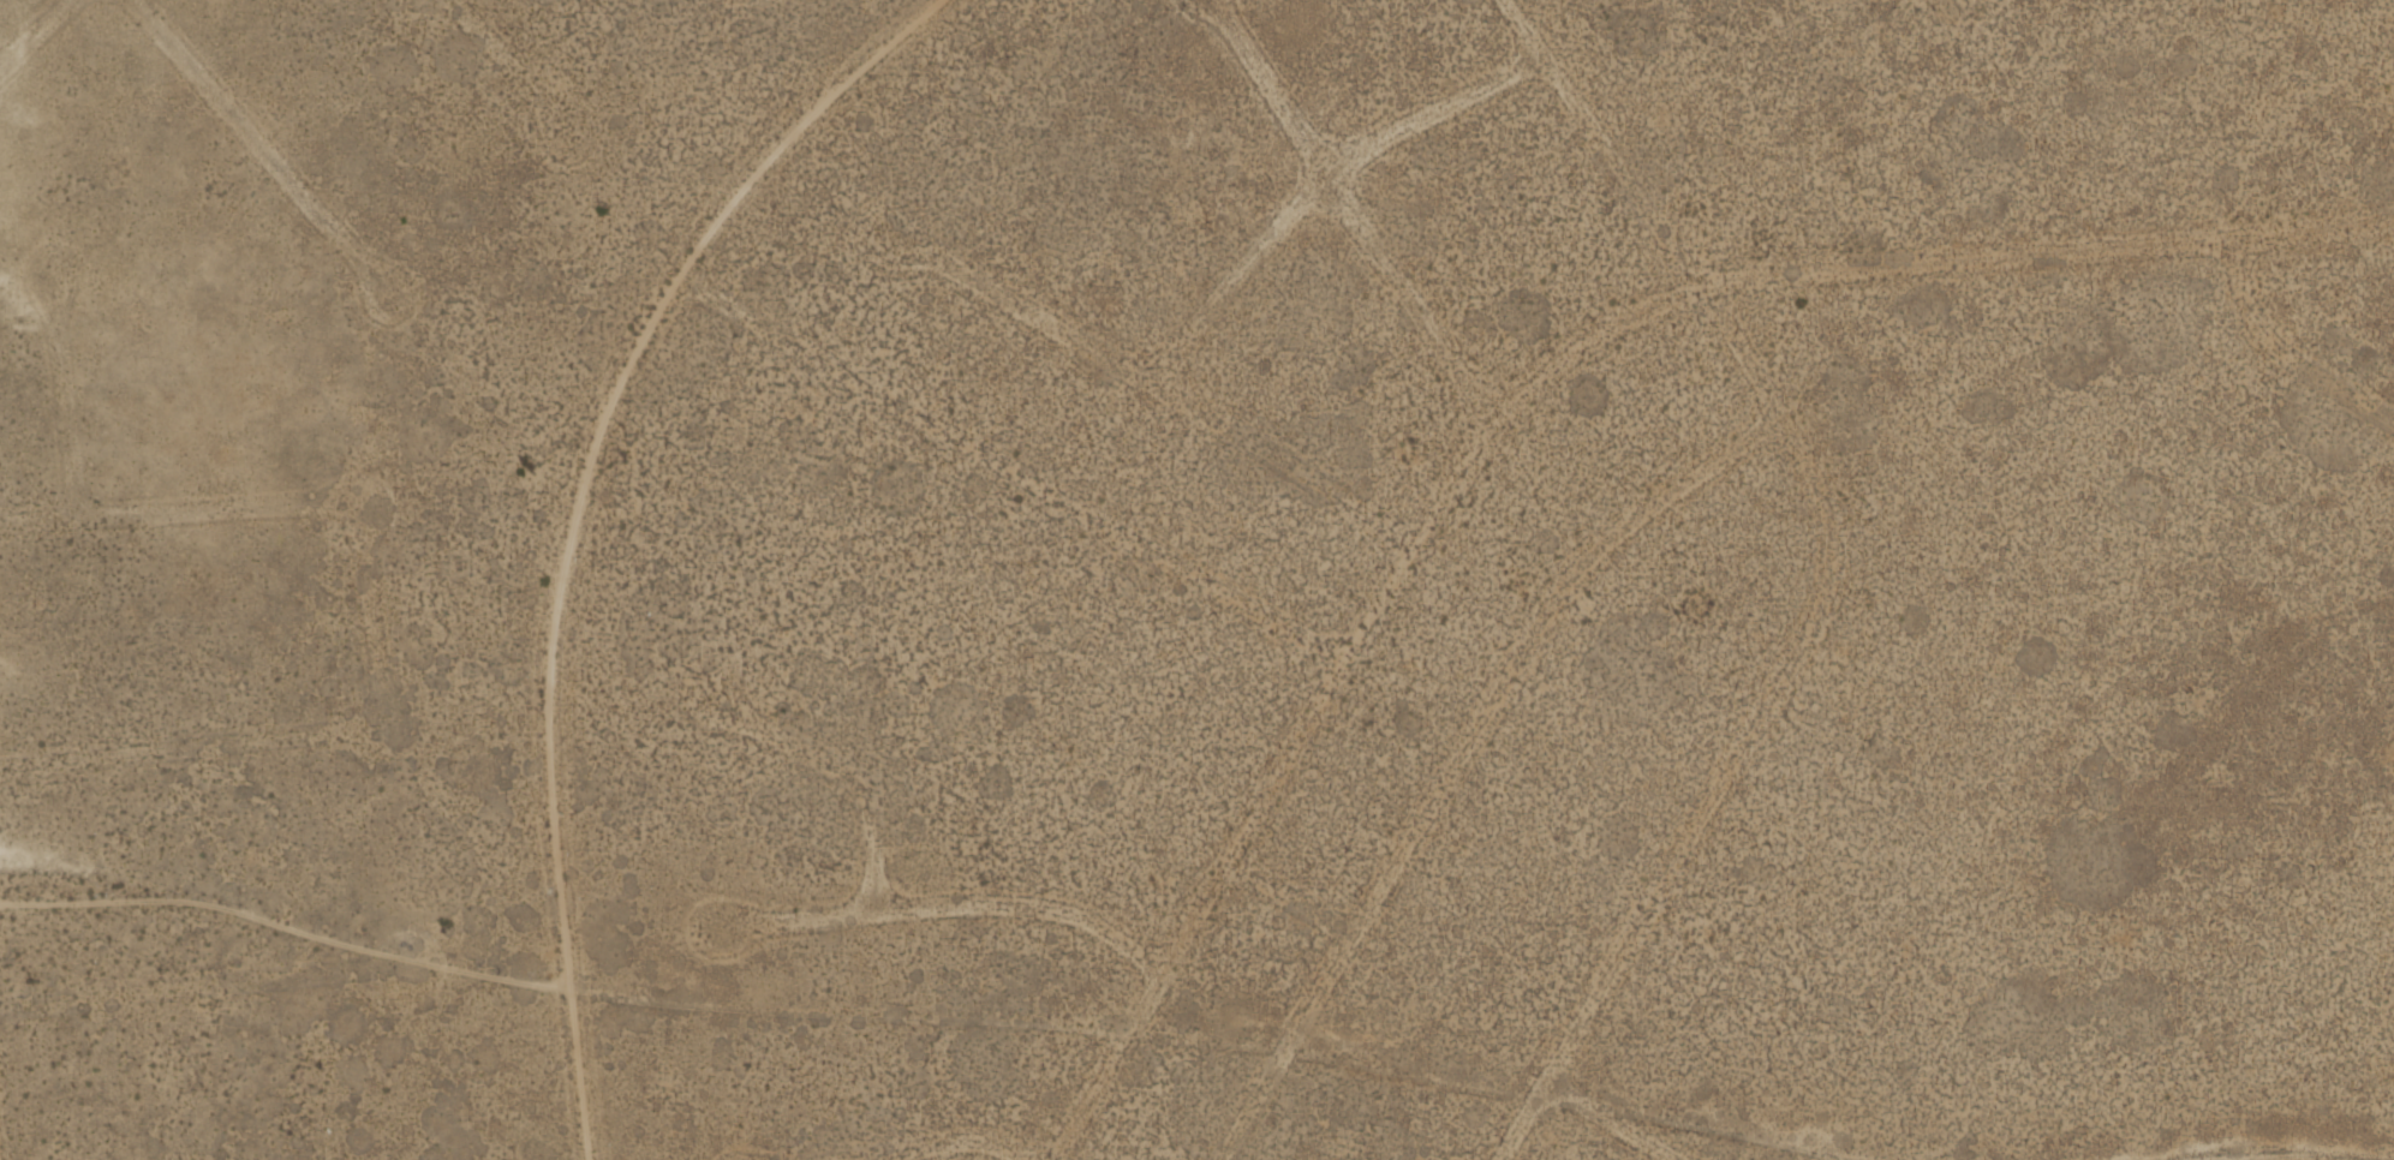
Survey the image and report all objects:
road: (577, 520)

